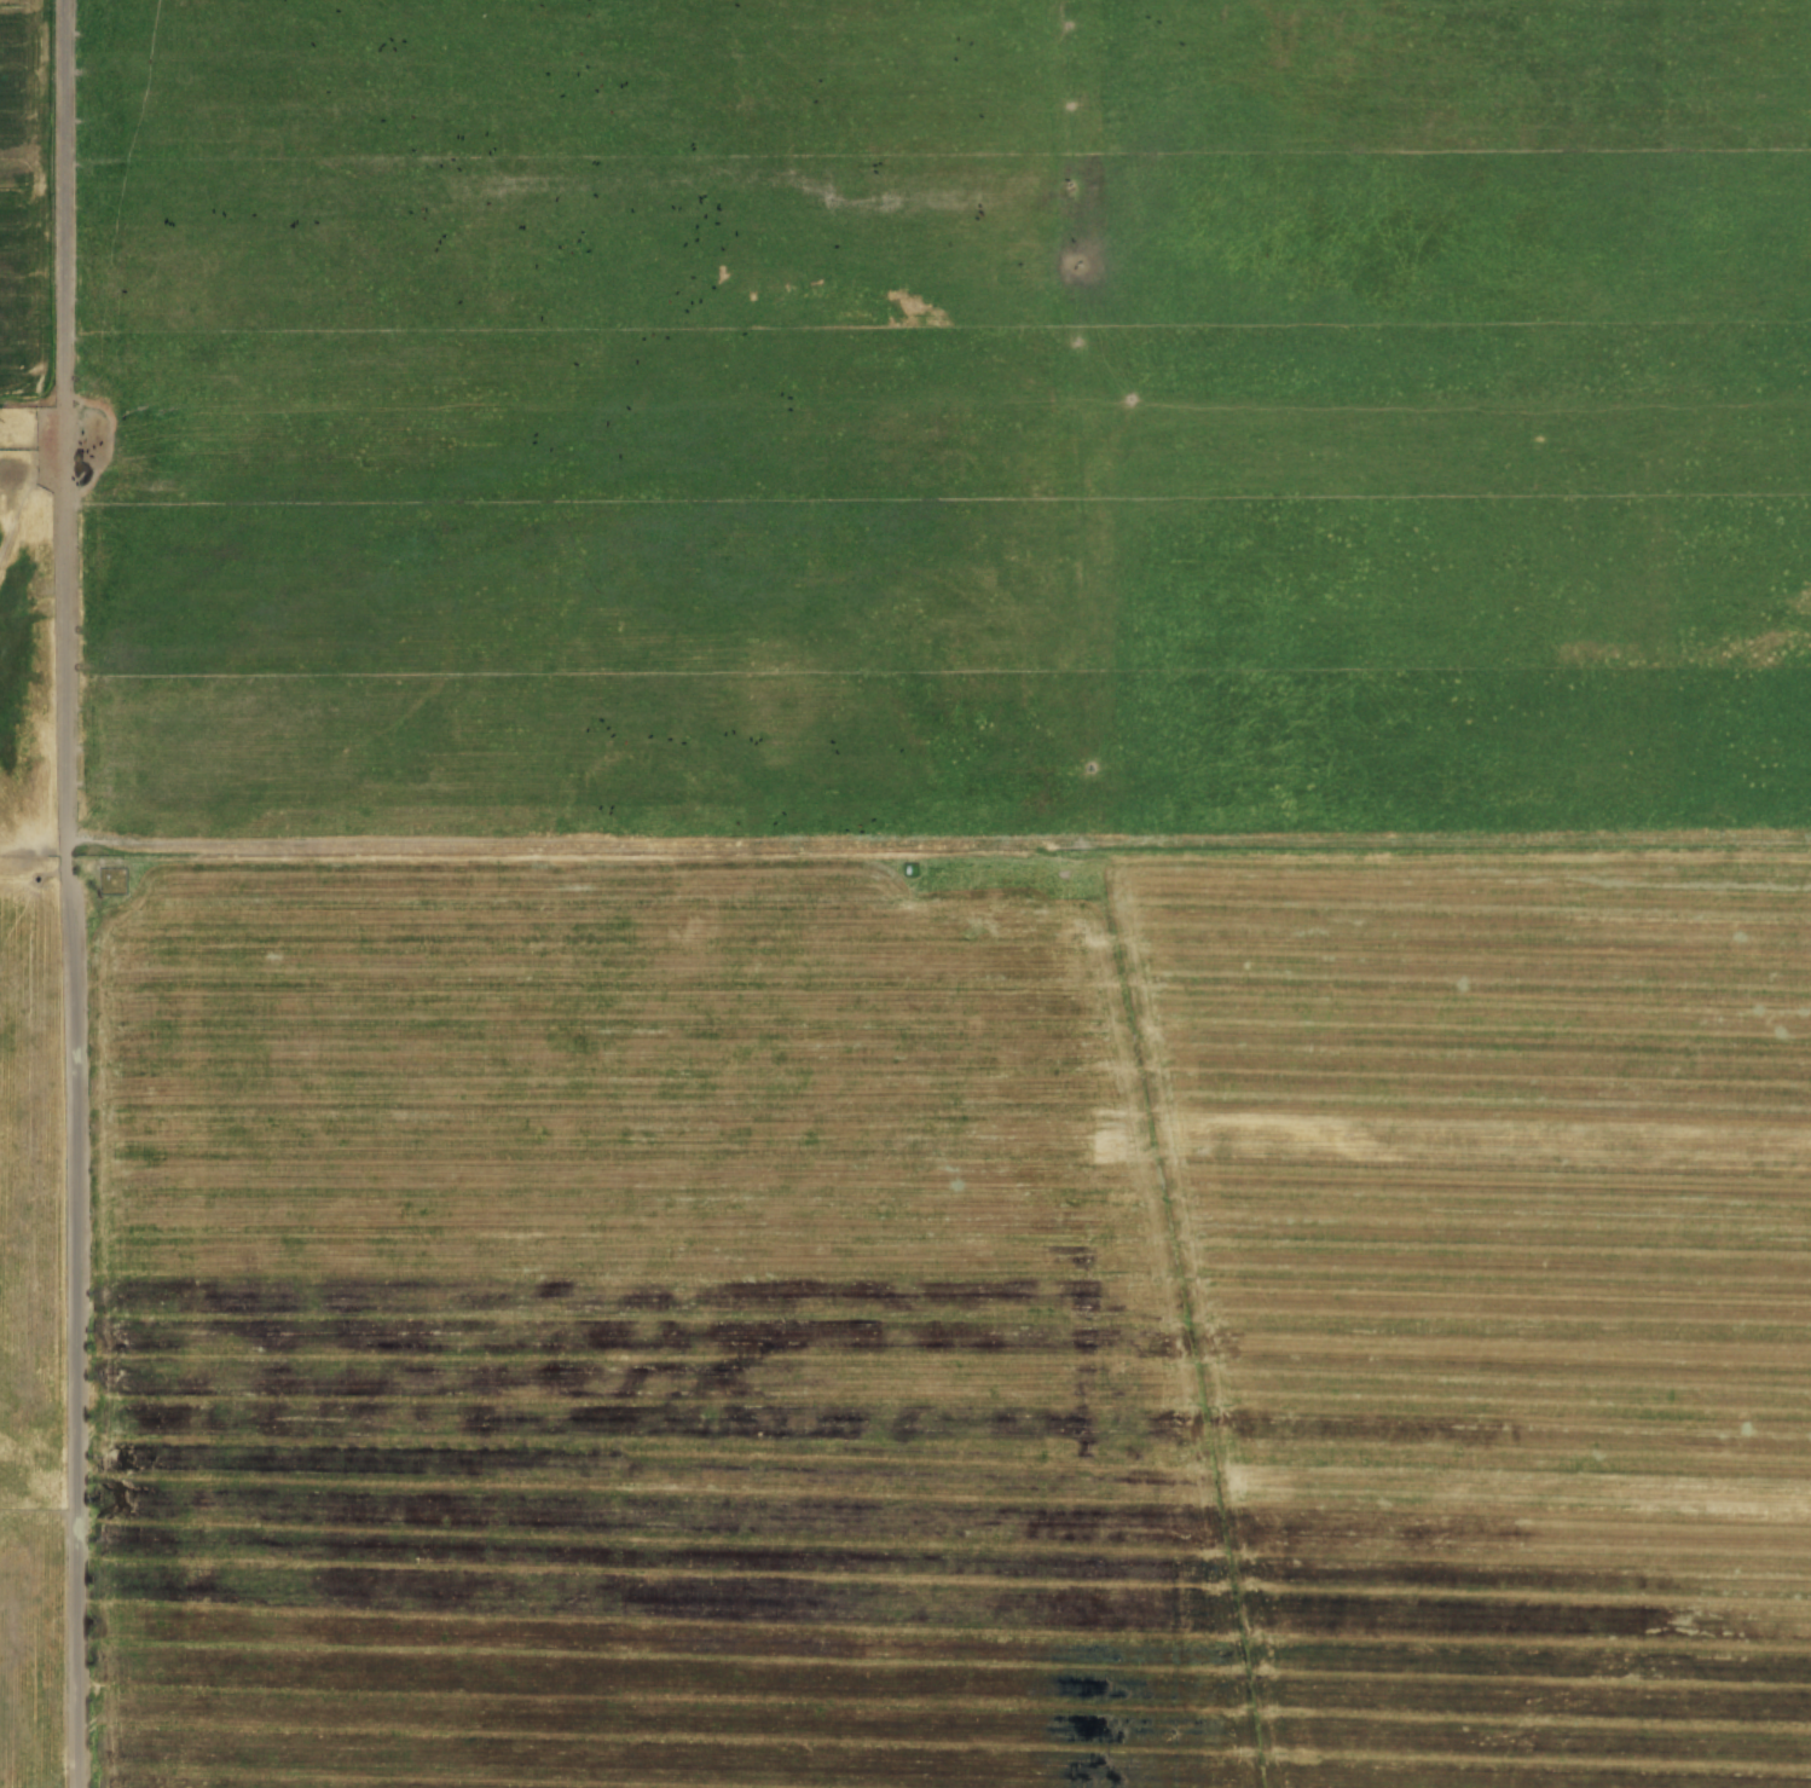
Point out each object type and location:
road: (74, 893)

